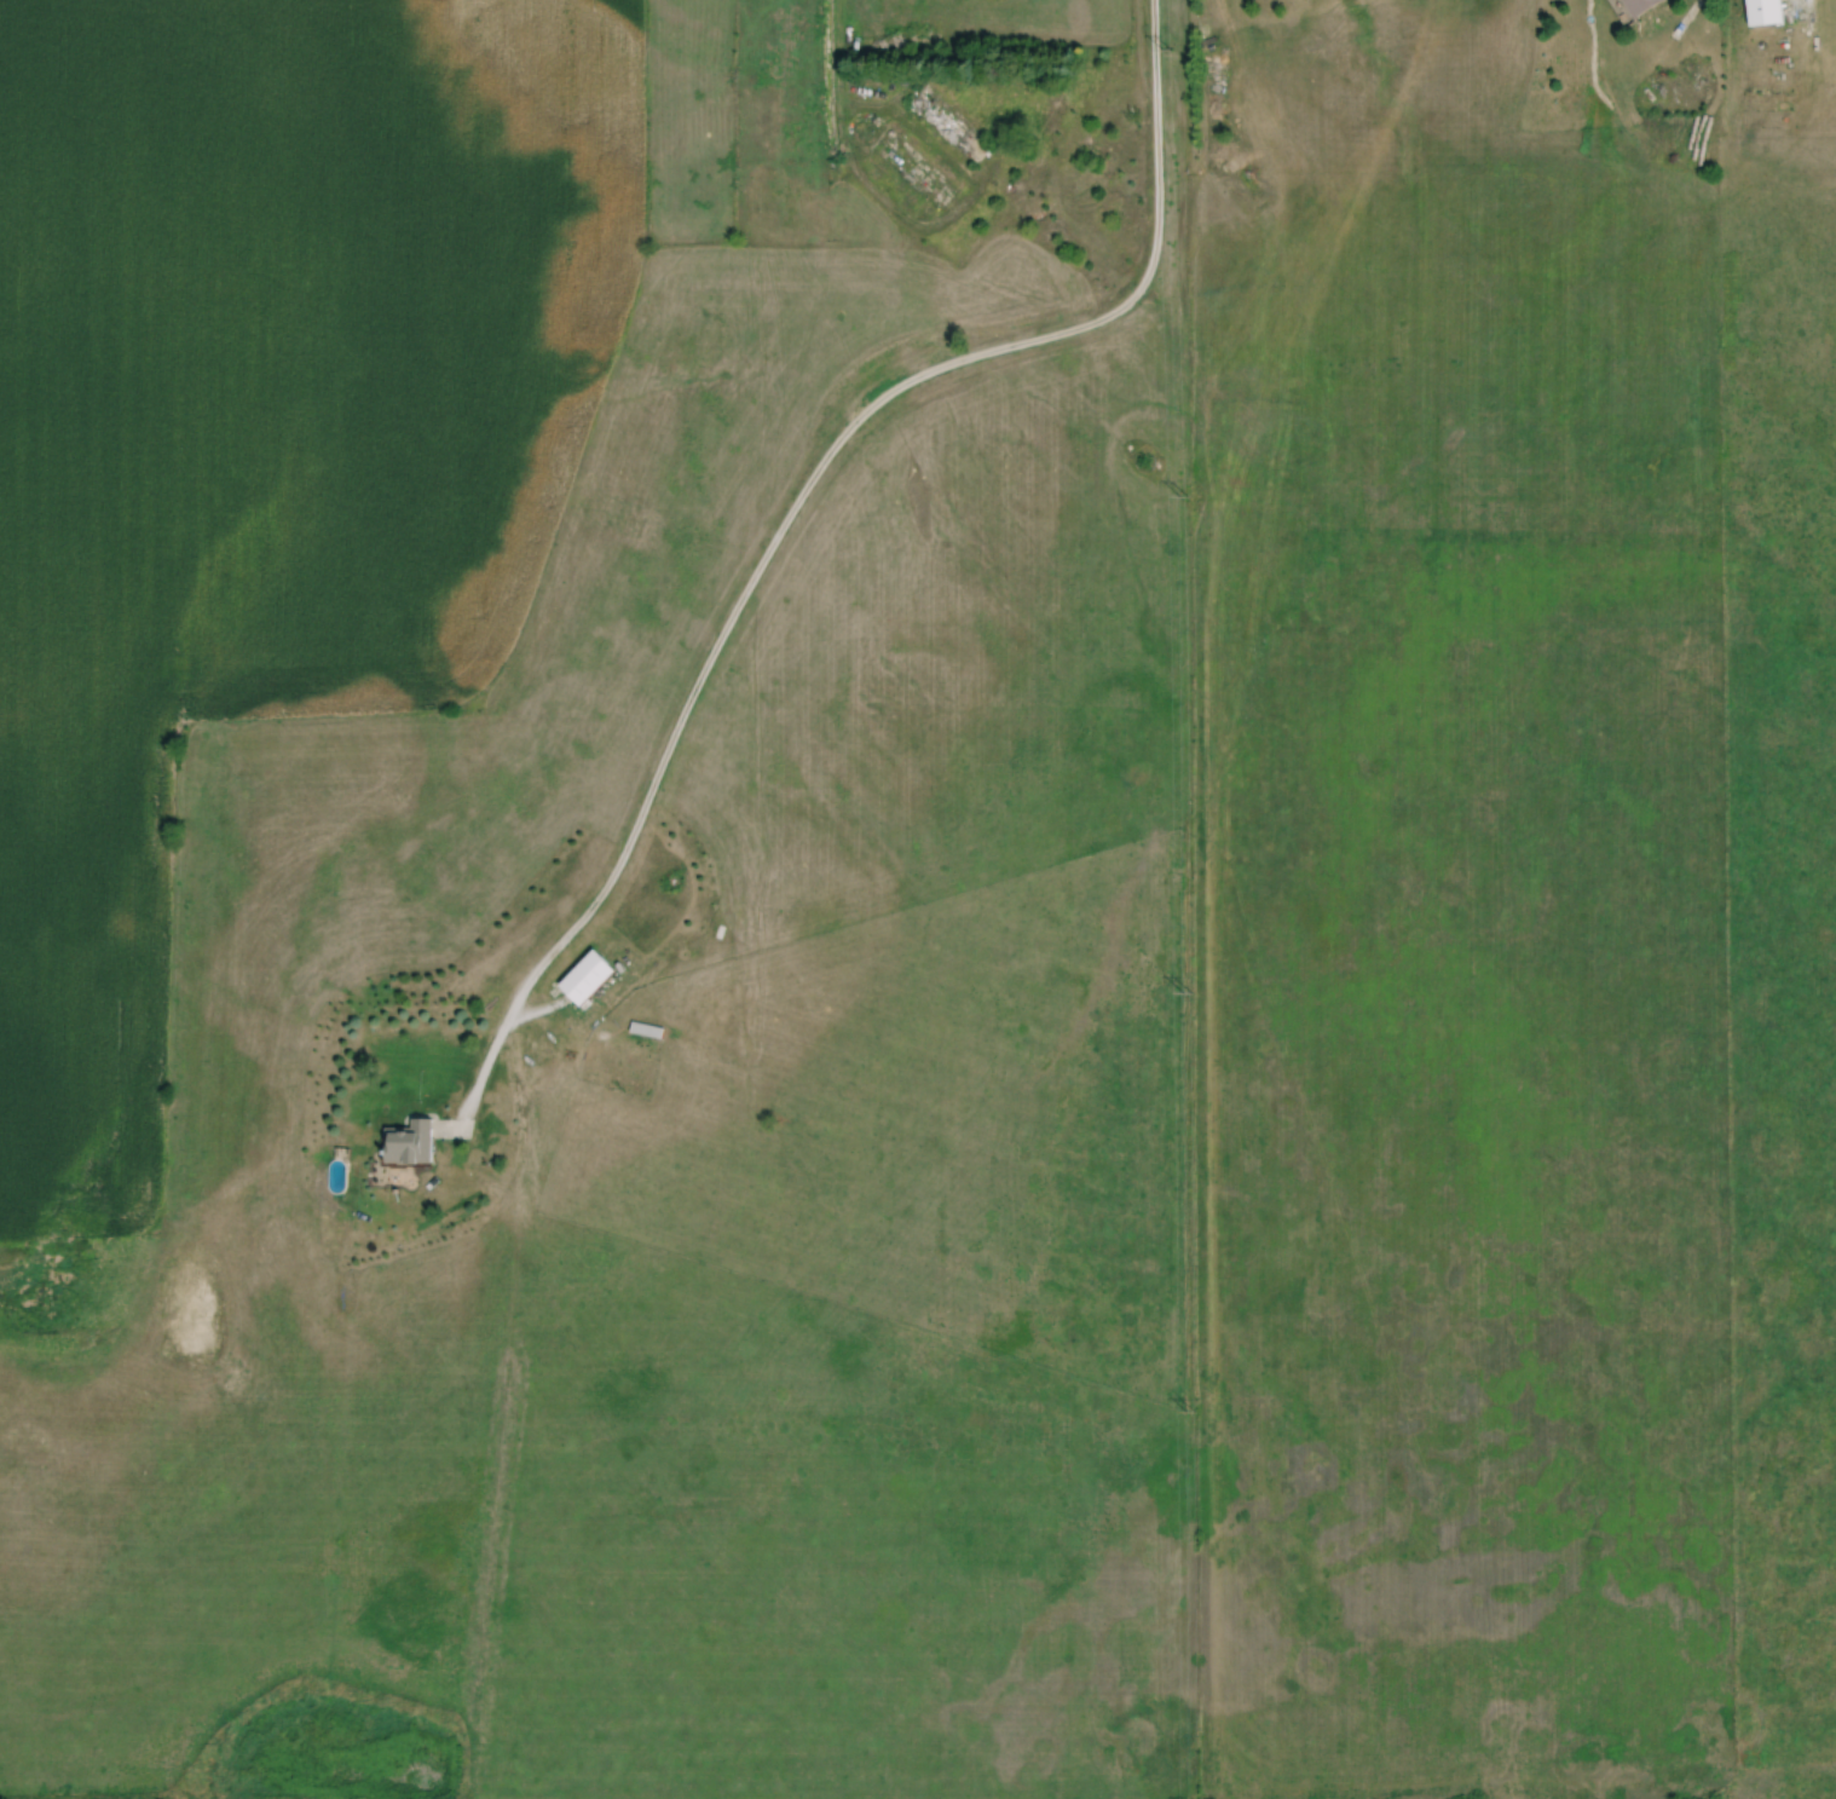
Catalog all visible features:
building: (1644, 5)
power tower: (1168, 50)
road: (806, 494)
power tower: (1185, 494)
building: (590, 979)
power tower: (1188, 993)
building: (412, 1143)
power tower: (1190, 1415)

